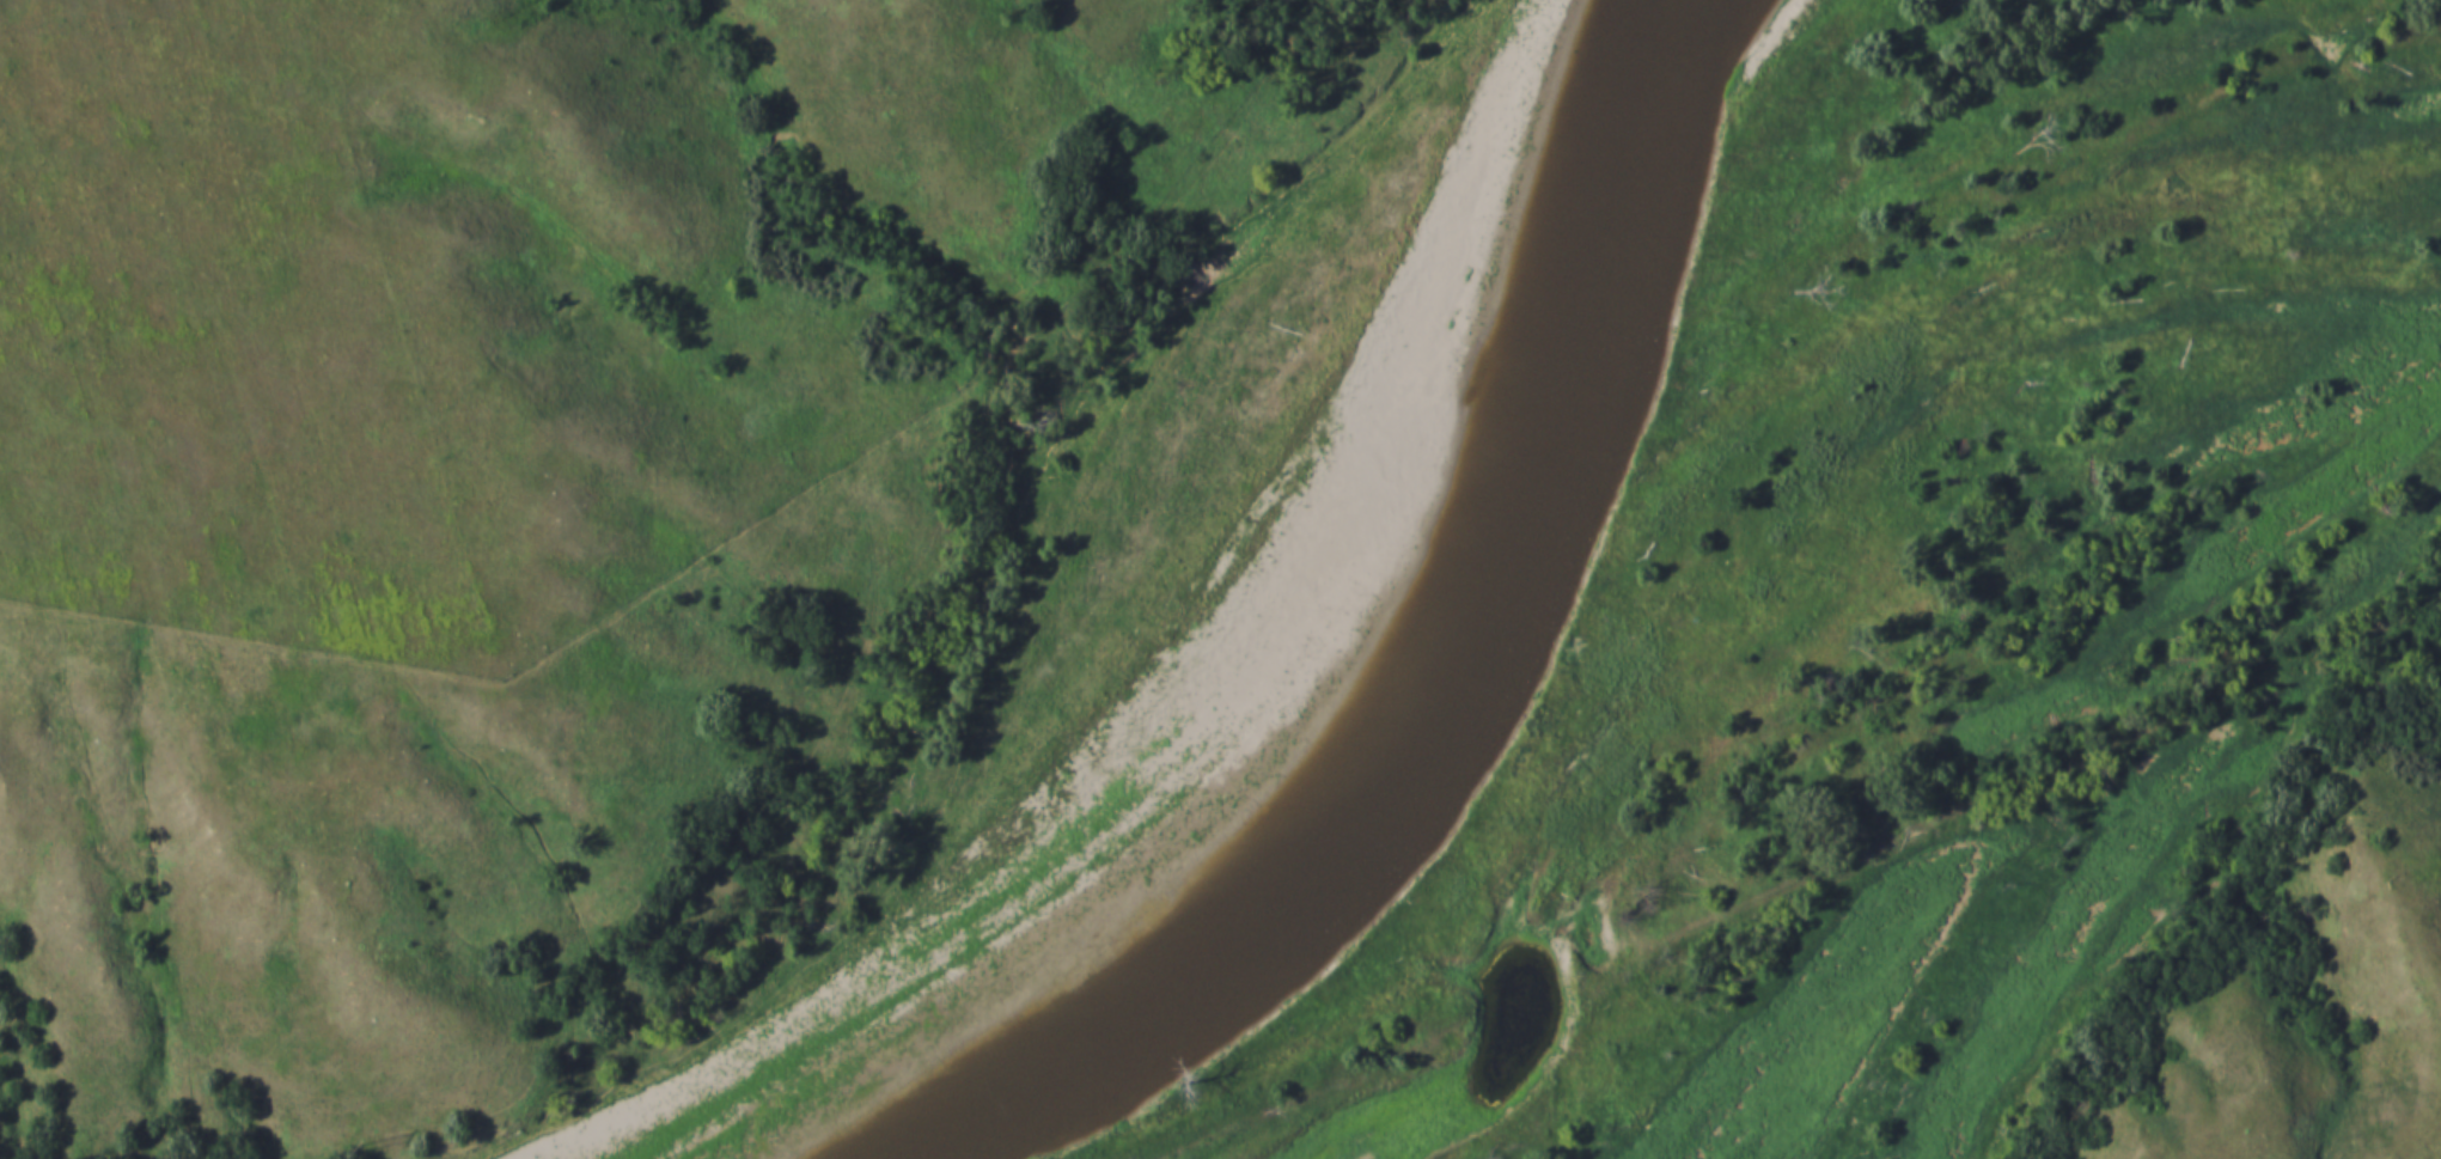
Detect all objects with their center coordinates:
river: (1403, 683)

